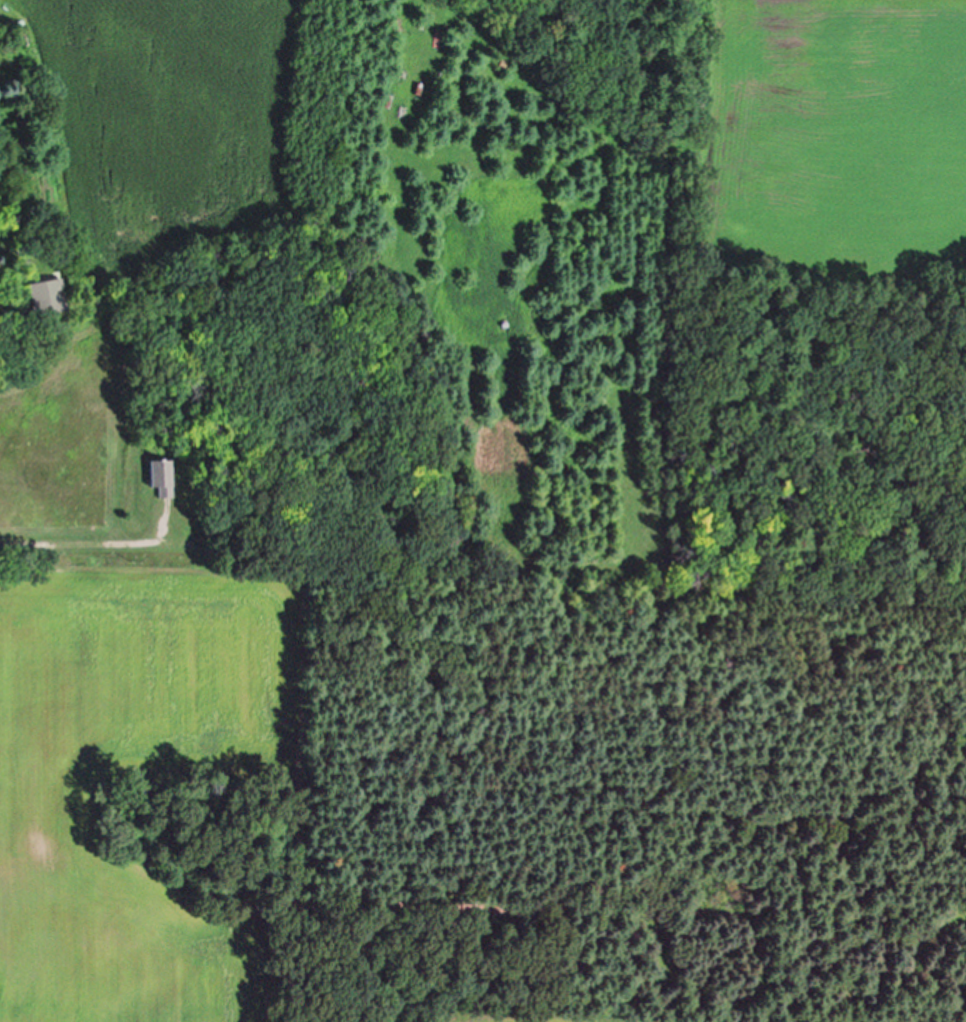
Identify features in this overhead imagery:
building: (51, 297)
building: (164, 478)
road: (83, 543)

